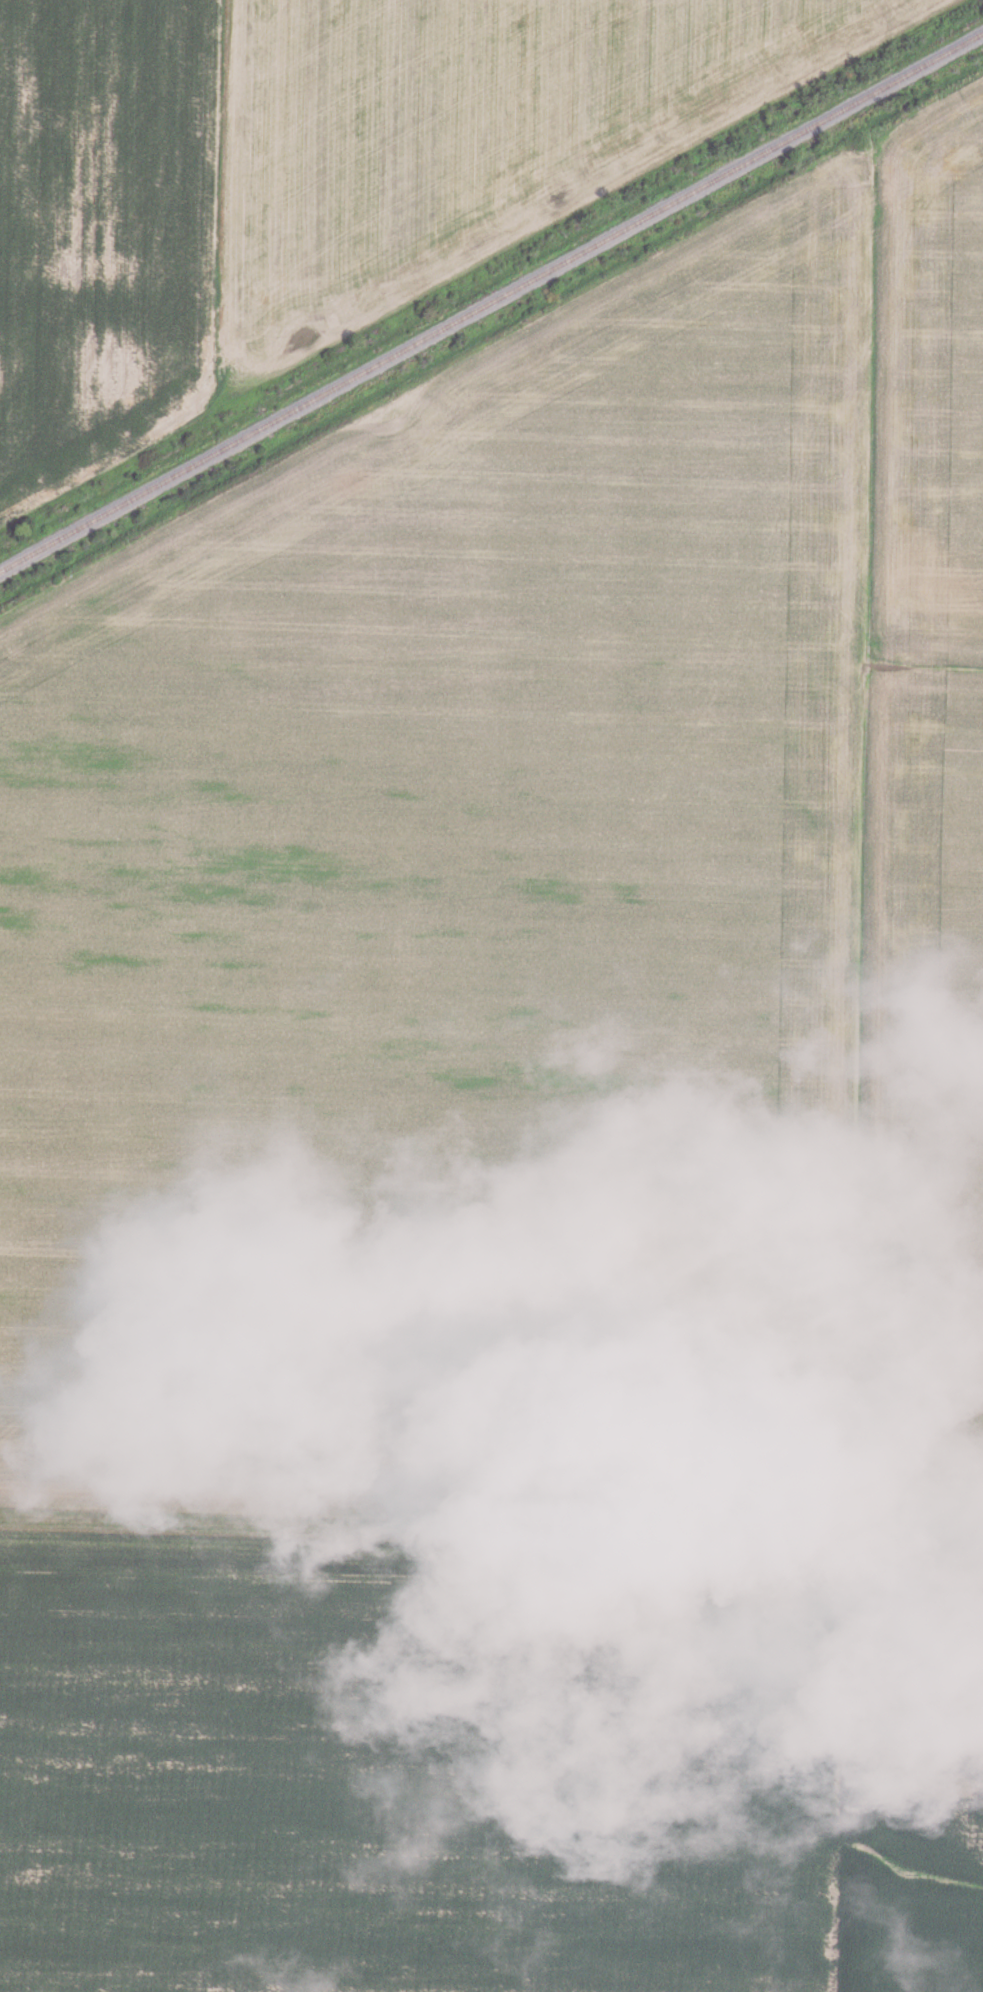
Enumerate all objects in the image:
railway: (491, 303)

